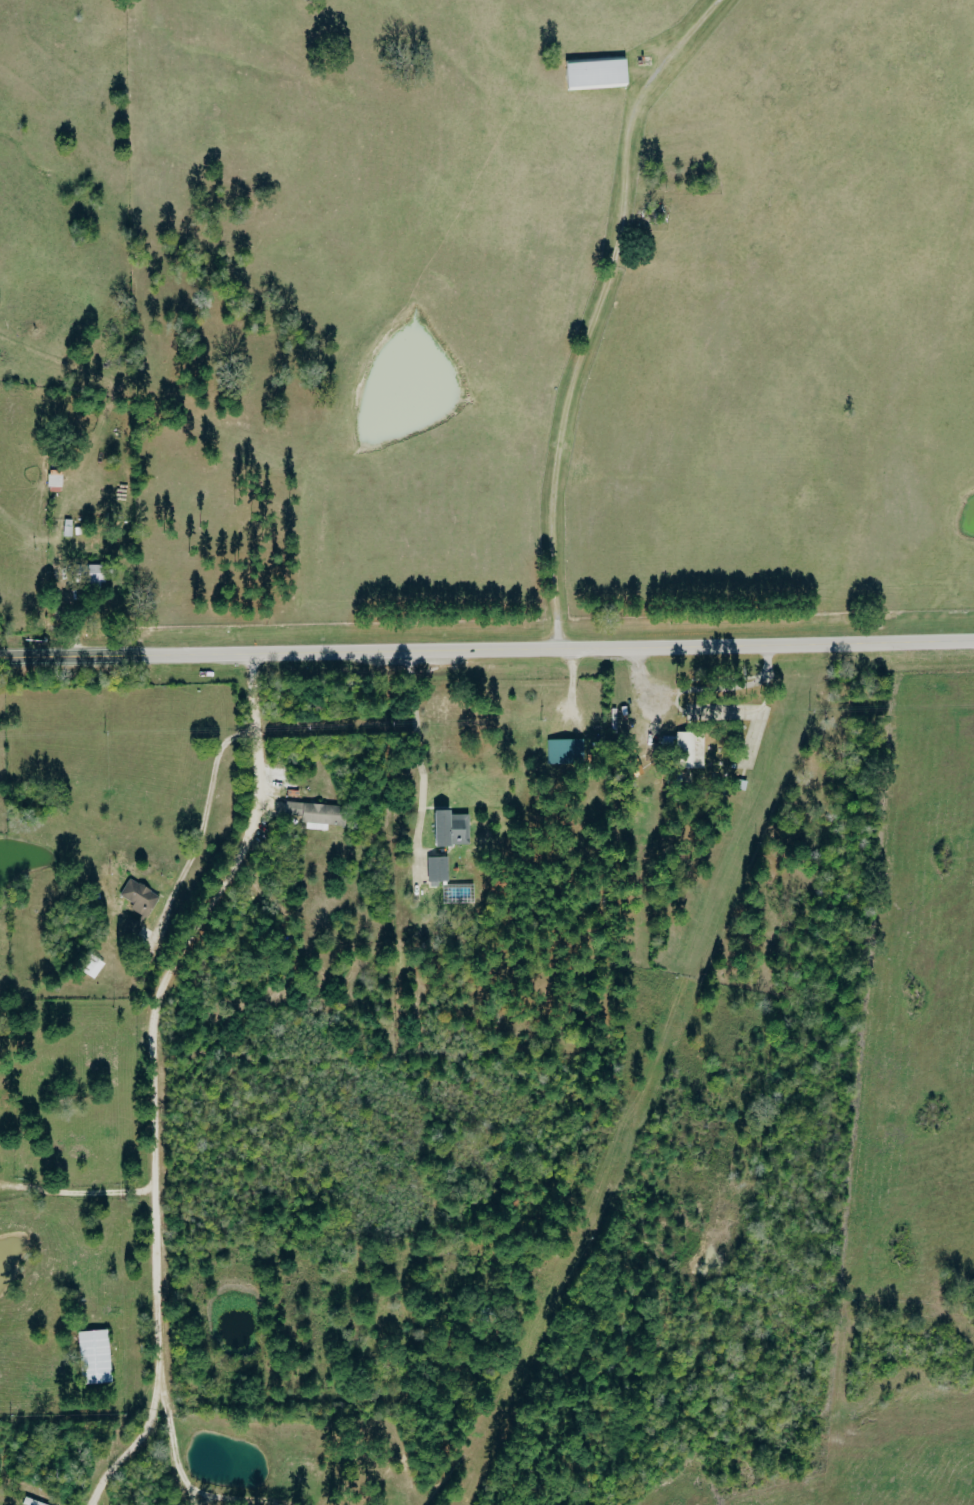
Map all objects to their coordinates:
building: (600, 74)
building: (98, 574)
road: (547, 646)
road: (60, 657)
building: (694, 748)
building: (568, 752)
building: (320, 815)
road: (205, 816)
building: (455, 830)
building: (439, 869)
building: (139, 908)
road: (151, 1068)
road: (75, 1192)
building: (98, 1357)
road: (133, 1446)
building: (34, 1502)

